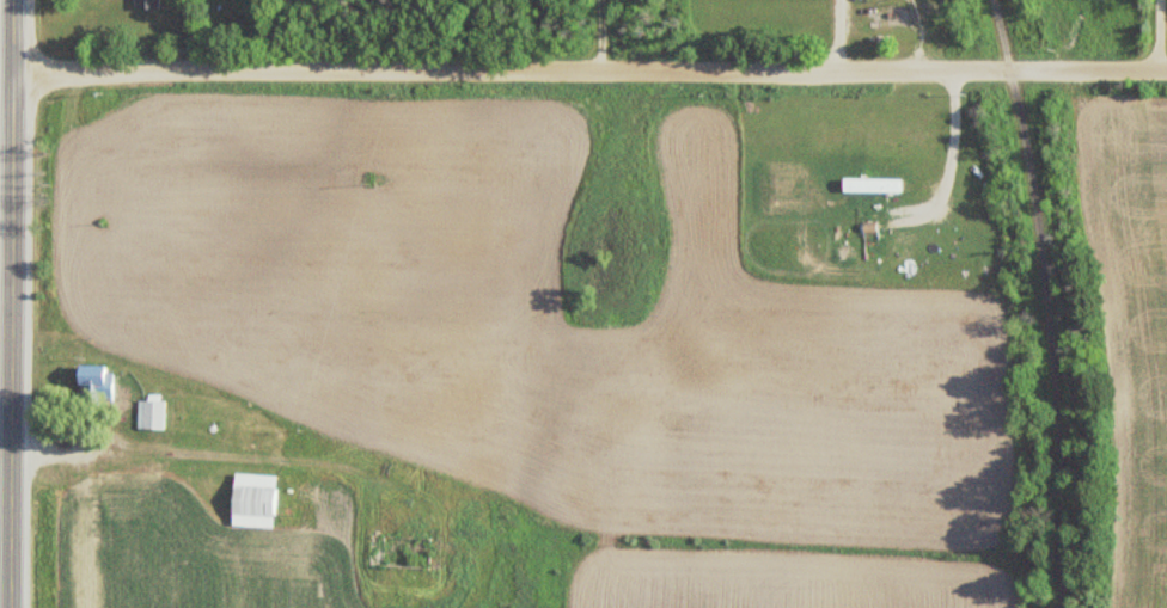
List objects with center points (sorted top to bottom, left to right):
building: (145, 4)
road: (841, 36)
road: (918, 36)
road: (1157, 37)
road: (599, 38)
road: (589, 76)
building: (868, 184)
road: (1062, 301)
road: (11, 303)
building: (91, 383)
building: (147, 414)
road: (232, 454)
building: (249, 497)

